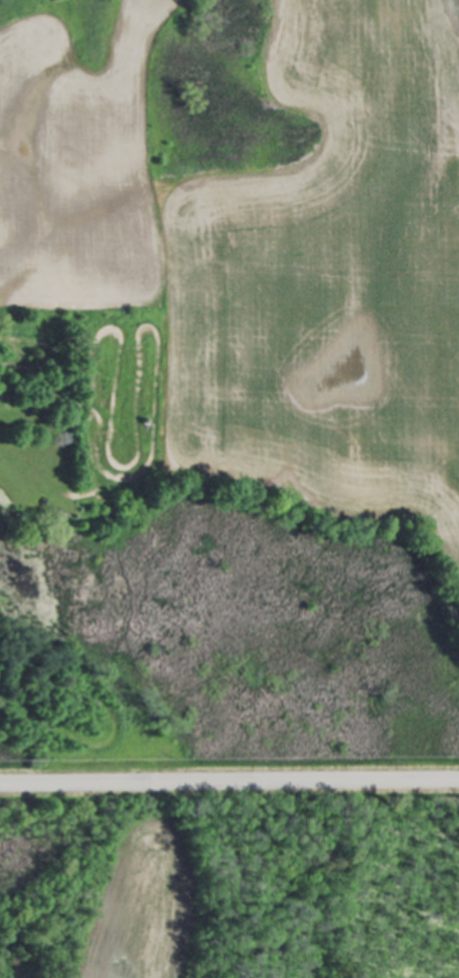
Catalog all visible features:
road: (229, 780)

